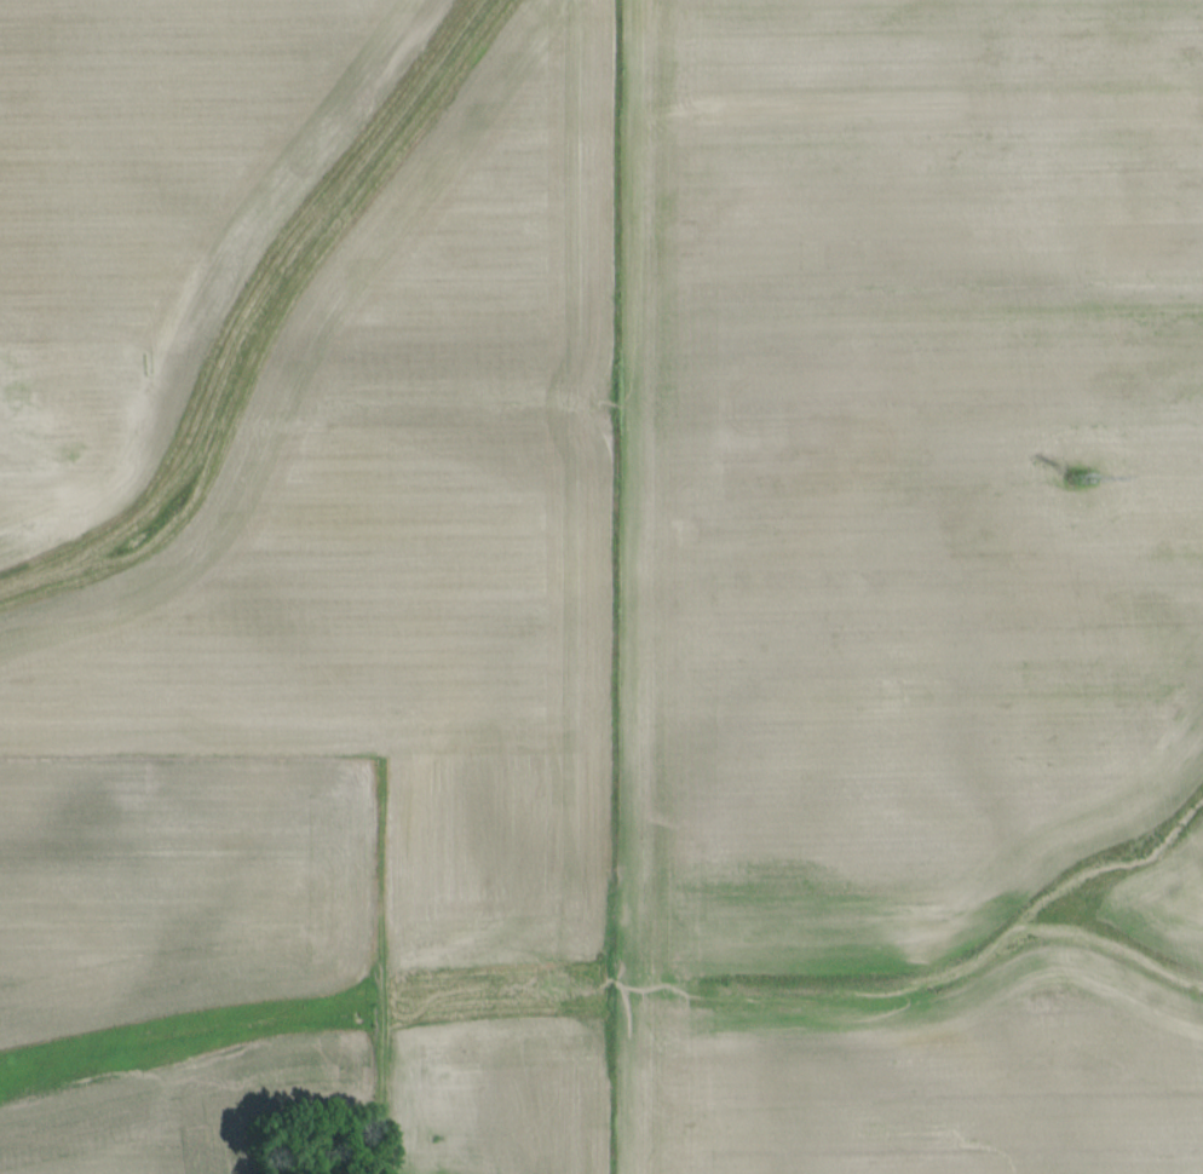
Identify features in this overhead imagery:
power tower: (1084, 499)

